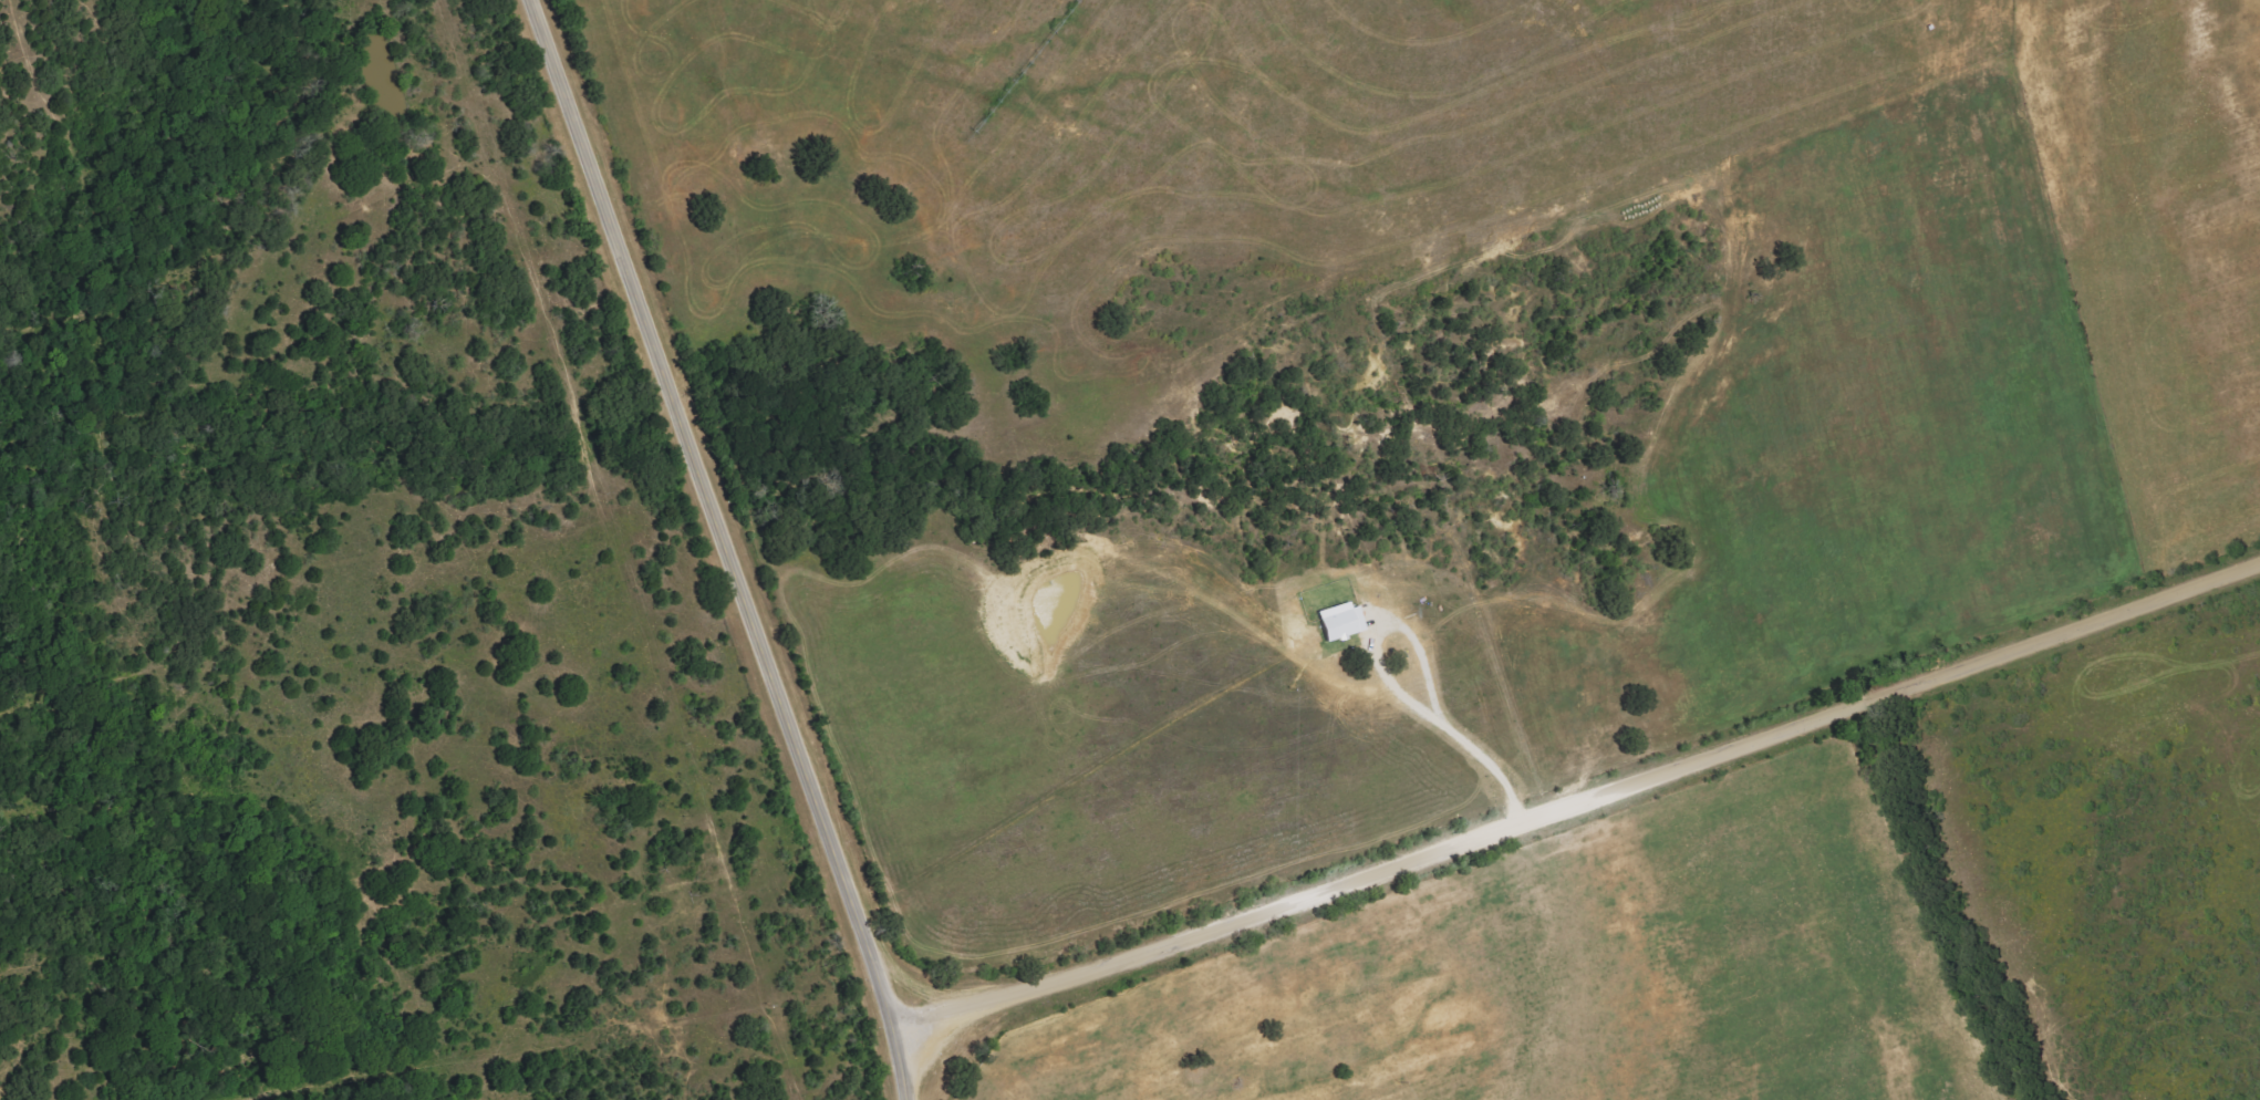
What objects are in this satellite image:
road: (727, 547)
building: (1337, 621)
road: (1450, 730)
road: (1576, 806)
road: (819, 1069)

